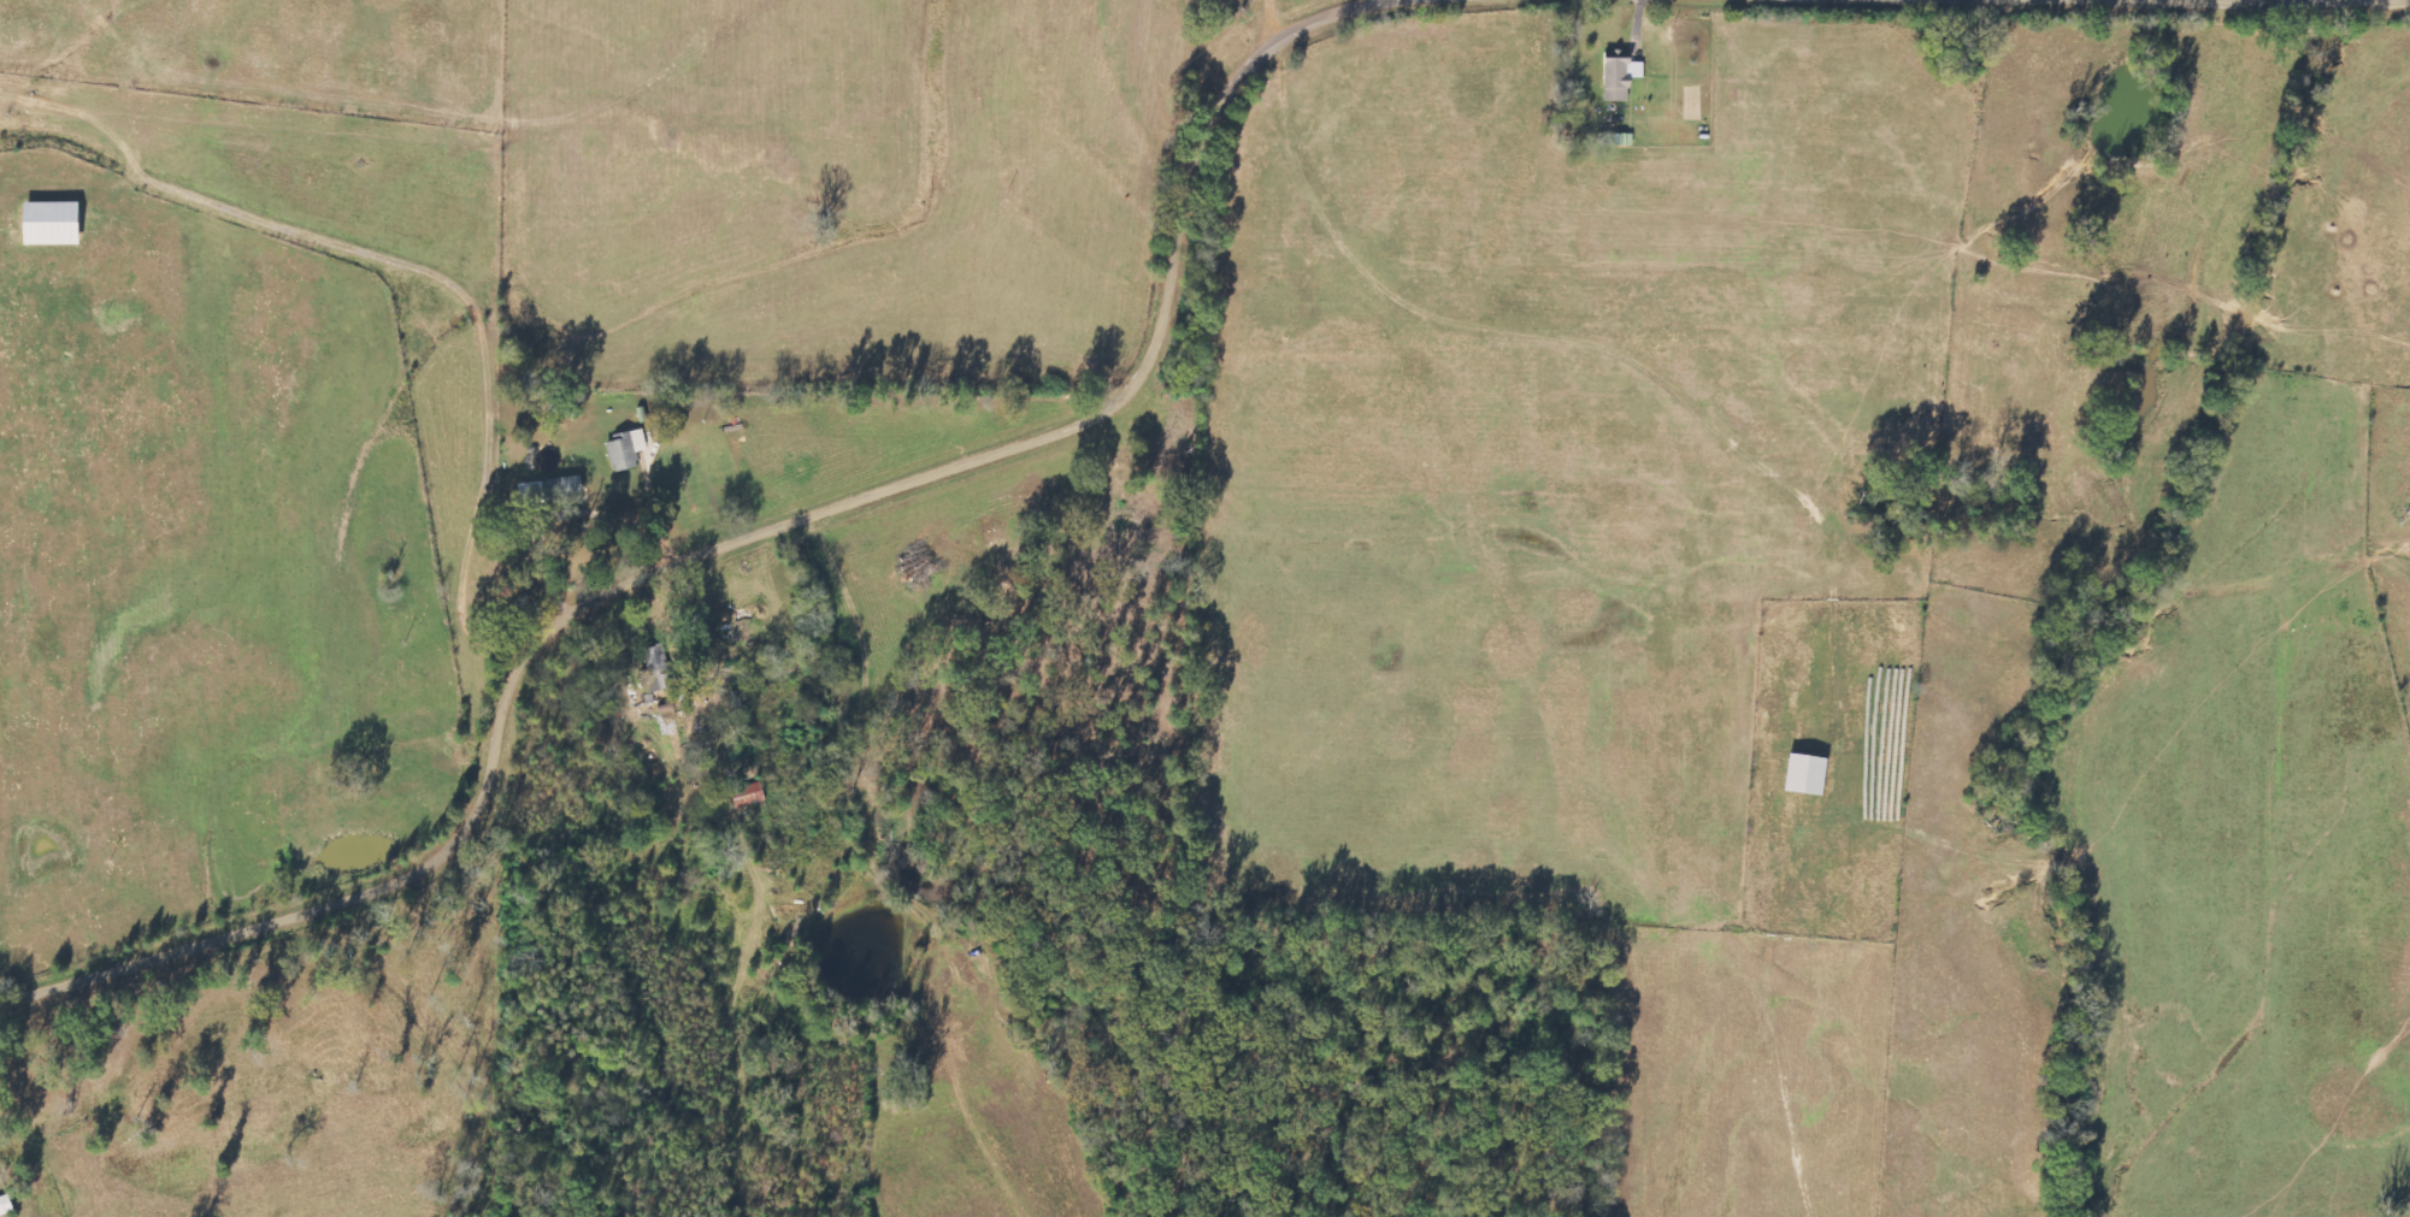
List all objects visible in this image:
building: (1618, 77)
building: (58, 224)
building: (624, 450)
road: (737, 540)
building: (654, 670)
building: (1799, 775)
building: (746, 797)
building: (7, 1206)

